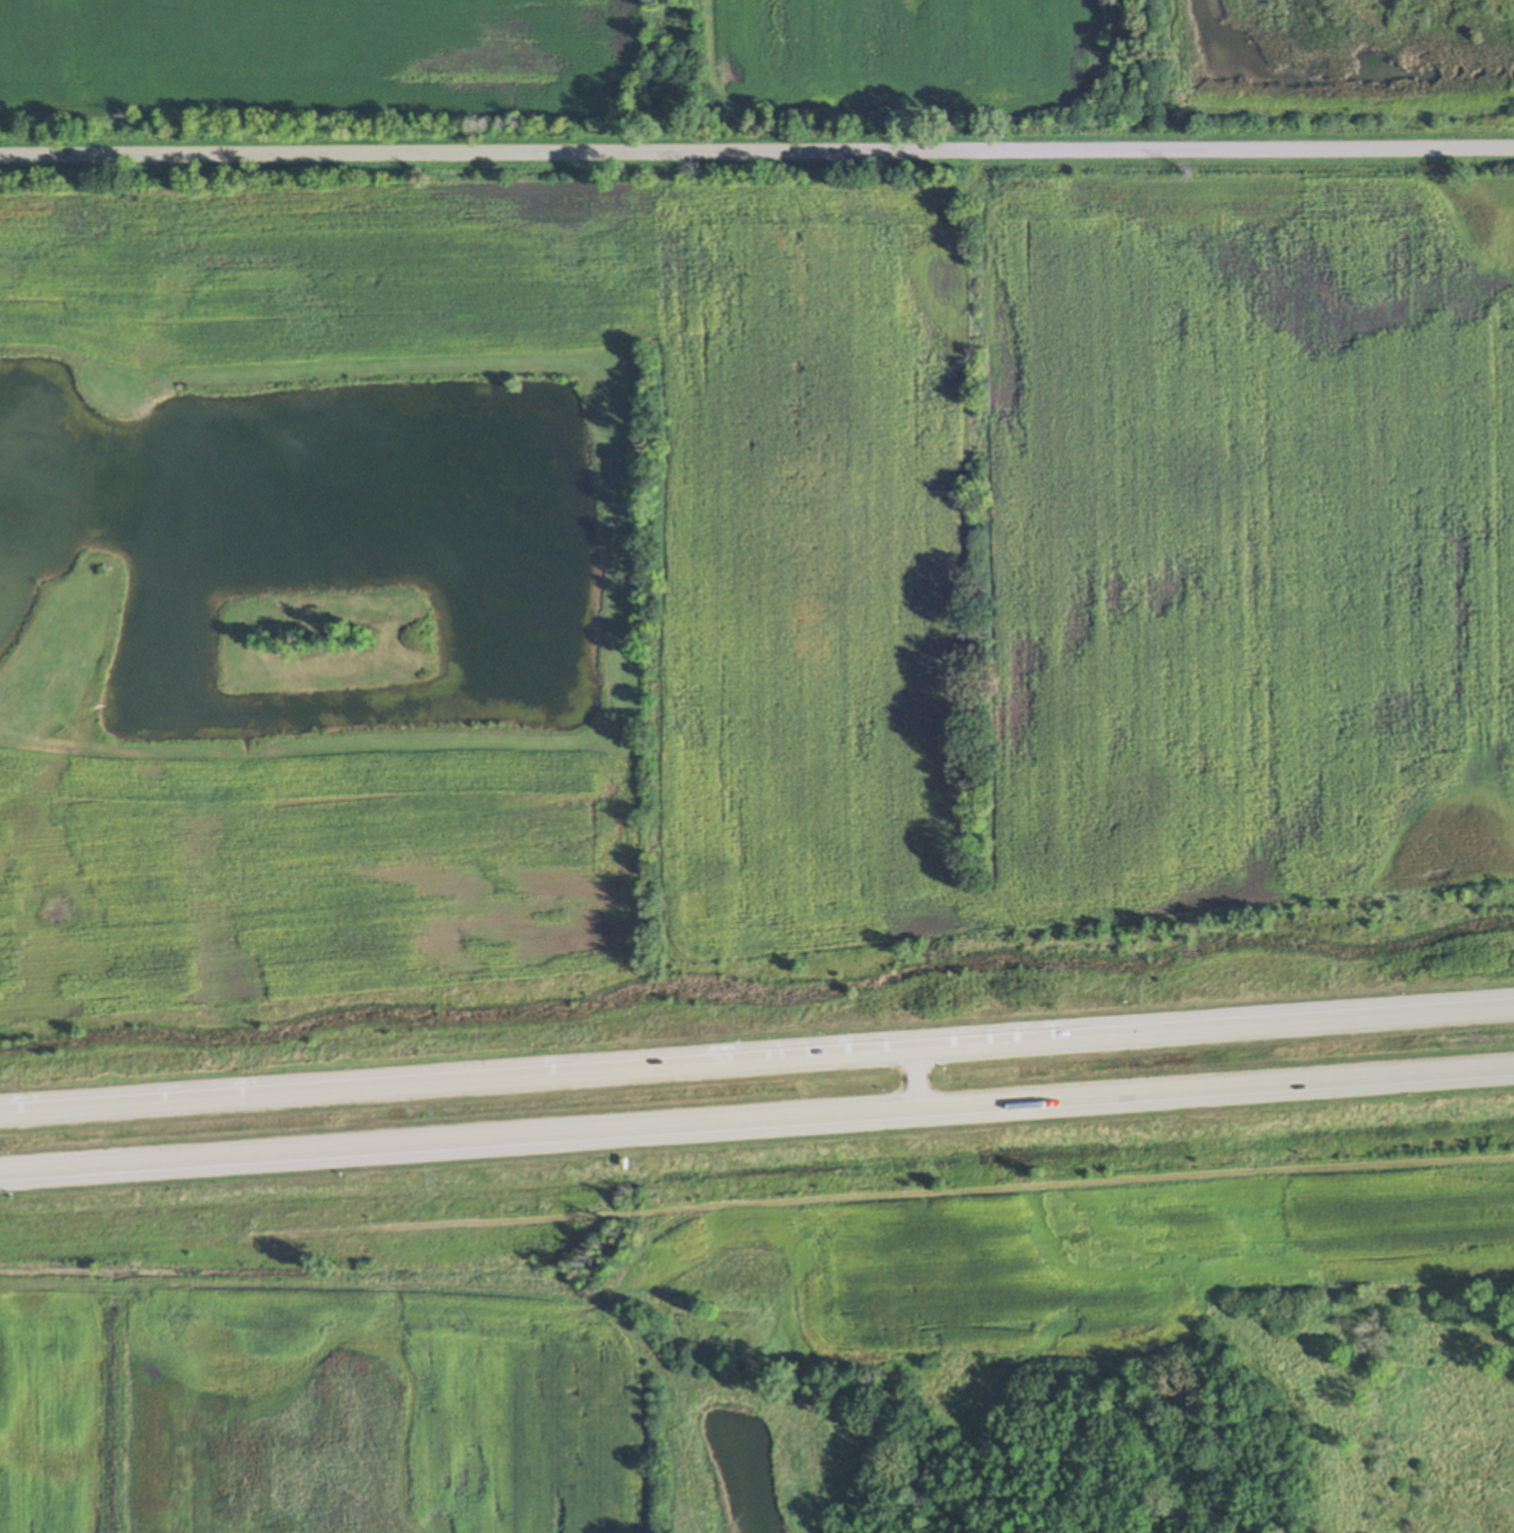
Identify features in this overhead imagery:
building: (700, 15)
road: (757, 152)
road: (756, 1060)
road: (918, 1079)
road: (757, 1120)
building: (634, 1213)
road: (308, 1232)
building: (734, 1372)

